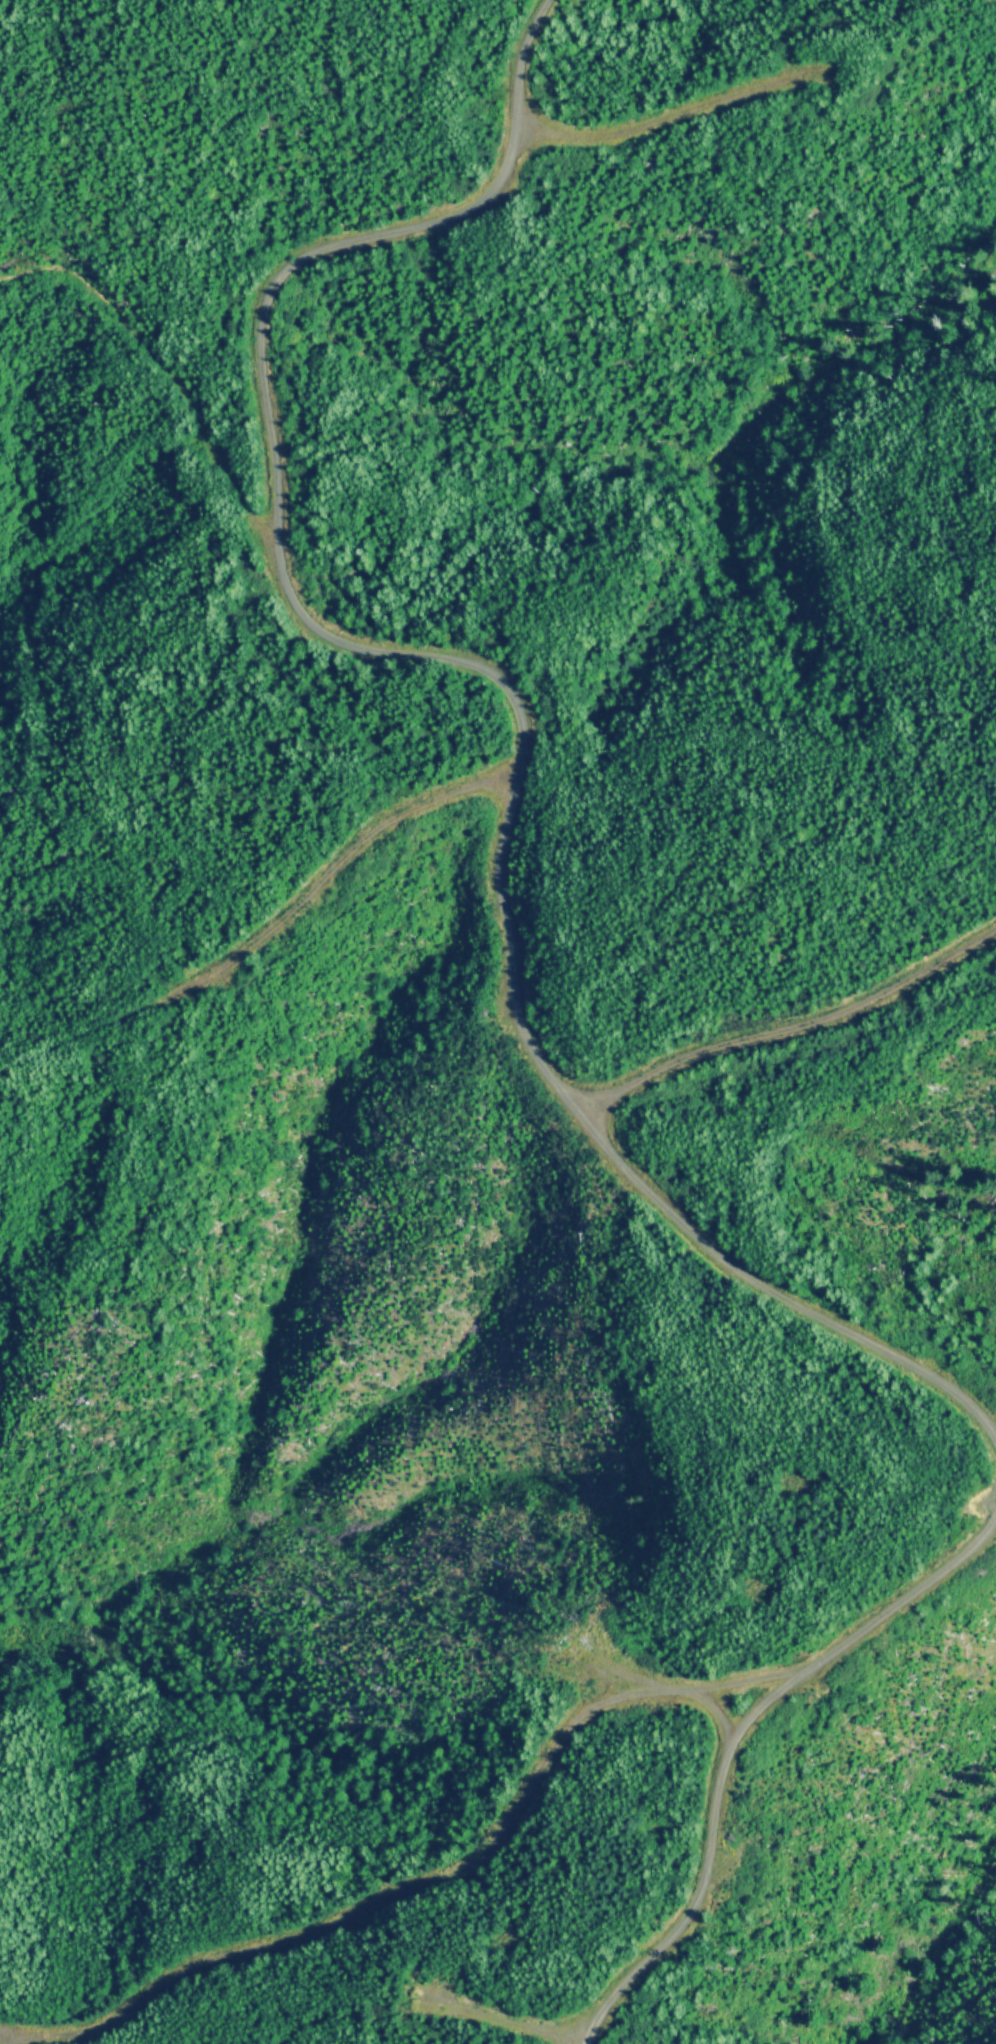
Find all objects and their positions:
road: (458, 665)
road: (784, 1024)
road: (773, 1688)
road: (754, 1791)
road: (449, 1866)

